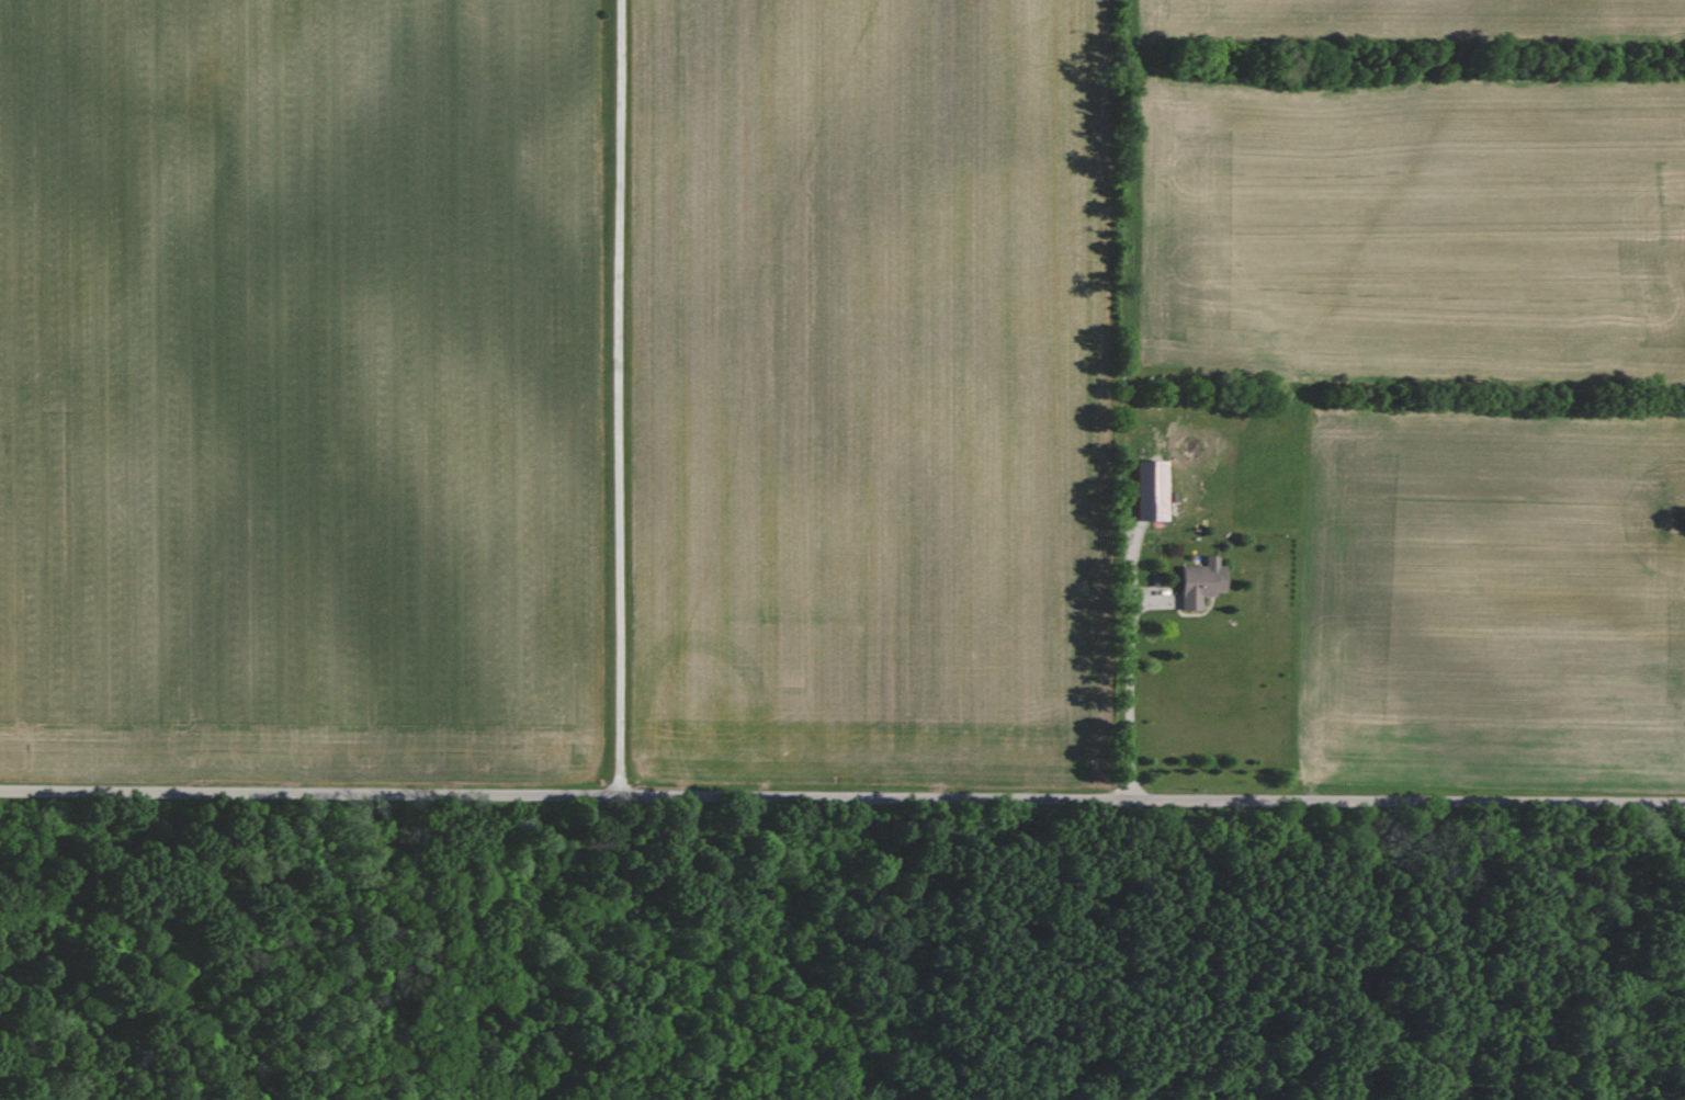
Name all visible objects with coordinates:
road: (618, 397)
building: (1144, 490)
building: (1197, 583)
road: (1128, 701)
road: (842, 796)

